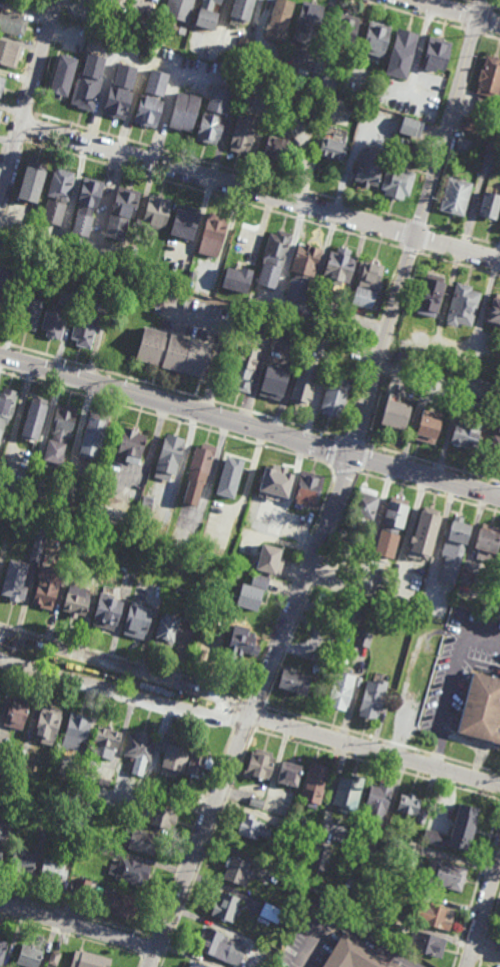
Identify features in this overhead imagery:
road: (468, 1)
building: (207, 4)
road: (480, 4)
building: (79, 6)
building: (178, 7)
road: (494, 8)
building: (240, 10)
road: (455, 13)
road: (409, 15)
road: (468, 16)
building: (206, 20)
building: (277, 20)
road: (485, 21)
building: (306, 22)
building: (12, 23)
building: (72, 30)
building: (343, 30)
road: (472, 32)
road: (490, 37)
building: (375, 39)
building: (242, 45)
building: (7, 53)
building: (400, 54)
building: (434, 54)
building: (301, 77)
building: (488, 78)
building: (85, 83)
building: (1, 85)
building: (56, 85)
building: (117, 93)
road: (28, 99)
building: (149, 100)
building: (182, 112)
building: (0, 113)
building: (211, 117)
building: (467, 124)
road: (29, 127)
building: (408, 127)
building: (241, 135)
building: (331, 142)
building: (461, 146)
building: (275, 148)
building: (491, 150)
road: (221, 167)
building: (367, 169)
building: (397, 182)
building: (27, 184)
road: (260, 191)
road: (213, 196)
building: (454, 197)
building: (55, 198)
building: (488, 206)
building: (84, 207)
building: (33, 210)
building: (154, 213)
building: (119, 214)
building: (180, 224)
road: (419, 224)
road: (405, 235)
road: (465, 237)
building: (210, 239)
road: (425, 240)
road: (410, 251)
building: (129, 255)
building: (272, 260)
road: (460, 265)
building: (338, 267)
building: (301, 273)
building: (191, 276)
building: (369, 276)
building: (235, 282)
building: (4, 291)
building: (430, 297)
building: (364, 299)
building: (462, 307)
building: (494, 312)
building: (26, 313)
building: (53, 324)
building: (266, 328)
building: (82, 332)
building: (350, 332)
building: (438, 341)
road: (224, 344)
building: (167, 355)
building: (403, 359)
road: (380, 362)
building: (244, 370)
building: (274, 382)
building: (303, 386)
road: (170, 389)
building: (334, 400)
building: (6, 404)
building: (34, 417)
road: (168, 419)
building: (394, 420)
road: (250, 425)
building: (426, 426)
building: (59, 433)
building: (465, 433)
building: (92, 437)
road: (354, 441)
building: (130, 444)
building: (494, 444)
road: (336, 451)
building: (168, 455)
traffic signals: (354, 455)
road: (365, 458)
road: (435, 463)
road: (182, 465)
road: (349, 469)
building: (233, 470)
road: (212, 472)
building: (198, 473)
building: (276, 481)
building: (306, 485)
road: (246, 488)
building: (136, 492)
road: (430, 492)
building: (363, 502)
building: (144, 508)
building: (109, 516)
building: (66, 522)
building: (389, 523)
building: (425, 523)
road: (409, 528)
building: (231, 529)
building: (40, 532)
building: (74, 532)
building: (485, 540)
road: (435, 547)
building: (451, 547)
building: (269, 559)
building: (499, 562)
building: (499, 568)
building: (235, 572)
building: (465, 576)
building: (127, 577)
building: (14, 578)
building: (259, 581)
road: (292, 583)
building: (47, 585)
road: (311, 589)
building: (250, 598)
building: (74, 600)
building: (346, 609)
building: (104, 610)
building: (381, 615)
building: (136, 620)
building: (188, 627)
building: (165, 629)
building: (363, 637)
road: (483, 637)
building: (241, 641)
building: (321, 658)
road: (123, 659)
building: (294, 682)
road: (450, 682)
building: (340, 690)
building: (371, 698)
road: (116, 700)
building: (480, 708)
building: (17, 712)
road: (248, 714)
building: (46, 722)
building: (73, 730)
building: (104, 737)
building: (2, 746)
building: (138, 747)
road: (439, 748)
road: (375, 751)
building: (23, 753)
building: (171, 755)
building: (81, 759)
building: (196, 764)
building: (259, 764)
building: (288, 774)
building: (314, 783)
building: (147, 784)
building: (185, 792)
building: (347, 793)
building: (255, 802)
building: (376, 802)
building: (410, 807)
building: (160, 816)
building: (104, 818)
building: (279, 821)
building: (251, 827)
building: (460, 827)
road: (191, 832)
building: (2, 836)
building: (433, 838)
building: (140, 841)
road: (200, 841)
building: (83, 846)
building: (72, 847)
building: (411, 847)
building: (319, 857)
building: (22, 860)
building: (235, 871)
building: (50, 872)
building: (127, 872)
building: (300, 874)
building: (444, 874)
building: (80, 887)
building: (116, 905)
building: (224, 908)
road: (483, 909)
building: (270, 912)
road: (76, 913)
building: (432, 916)
building: (397, 923)
road: (79, 925)
road: (342, 930)
road: (71, 937)
building: (425, 944)
road: (146, 947)
building: (219, 948)
building: (498, 949)
building: (2, 952)
building: (354, 955)
building: (28, 957)
building: (52, 958)
building: (86, 960)
road: (140, 962)
building: (194, 965)
building: (46, 966)

